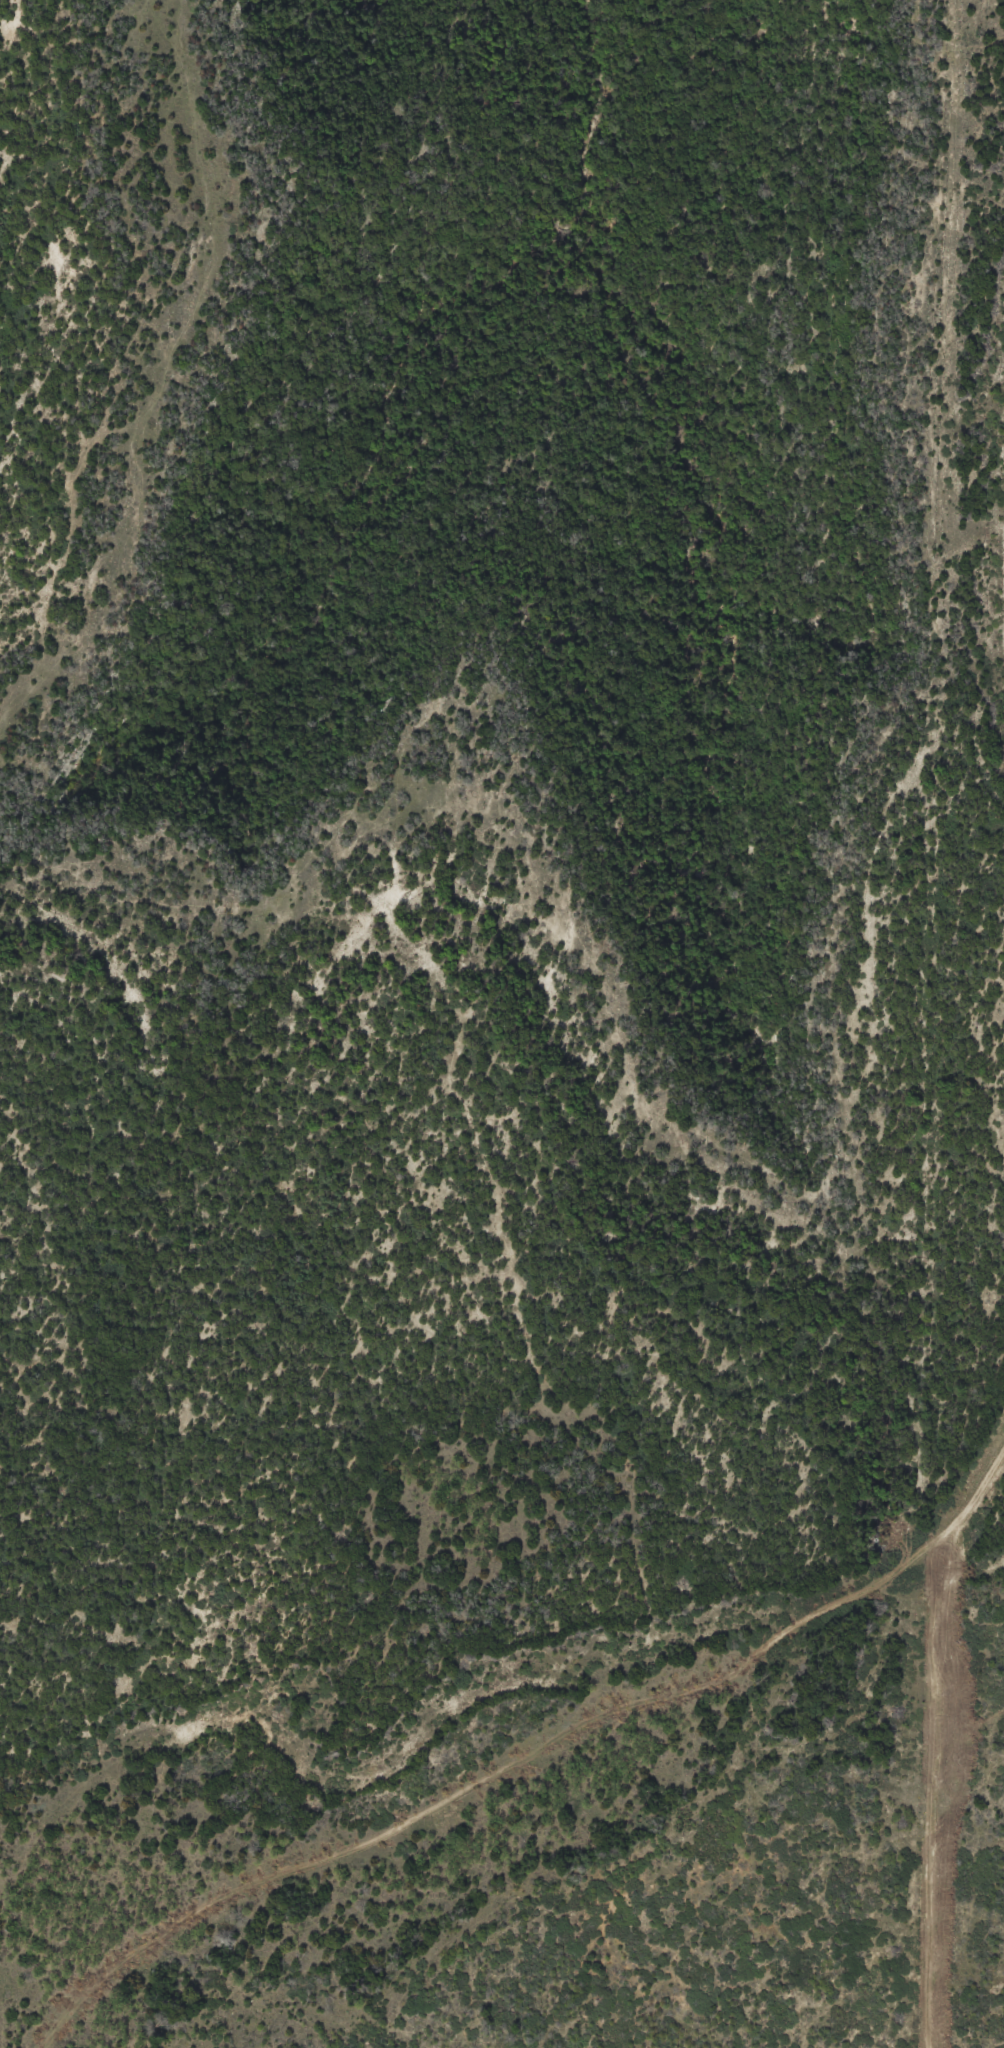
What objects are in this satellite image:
road: (518, 1756)

